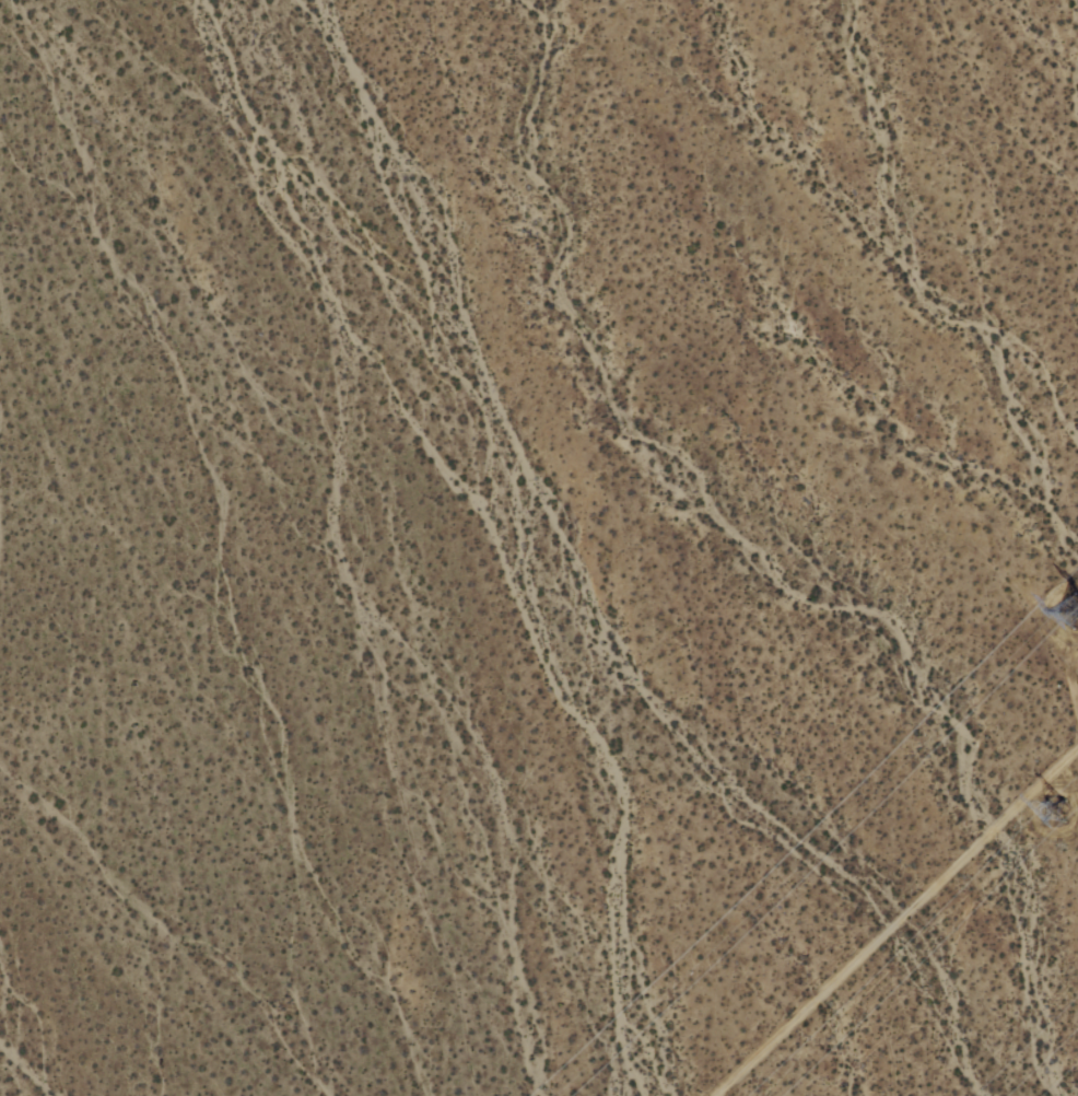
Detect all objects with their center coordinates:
power tower: (1076, 609)
power tower: (1064, 808)
road: (895, 921)

